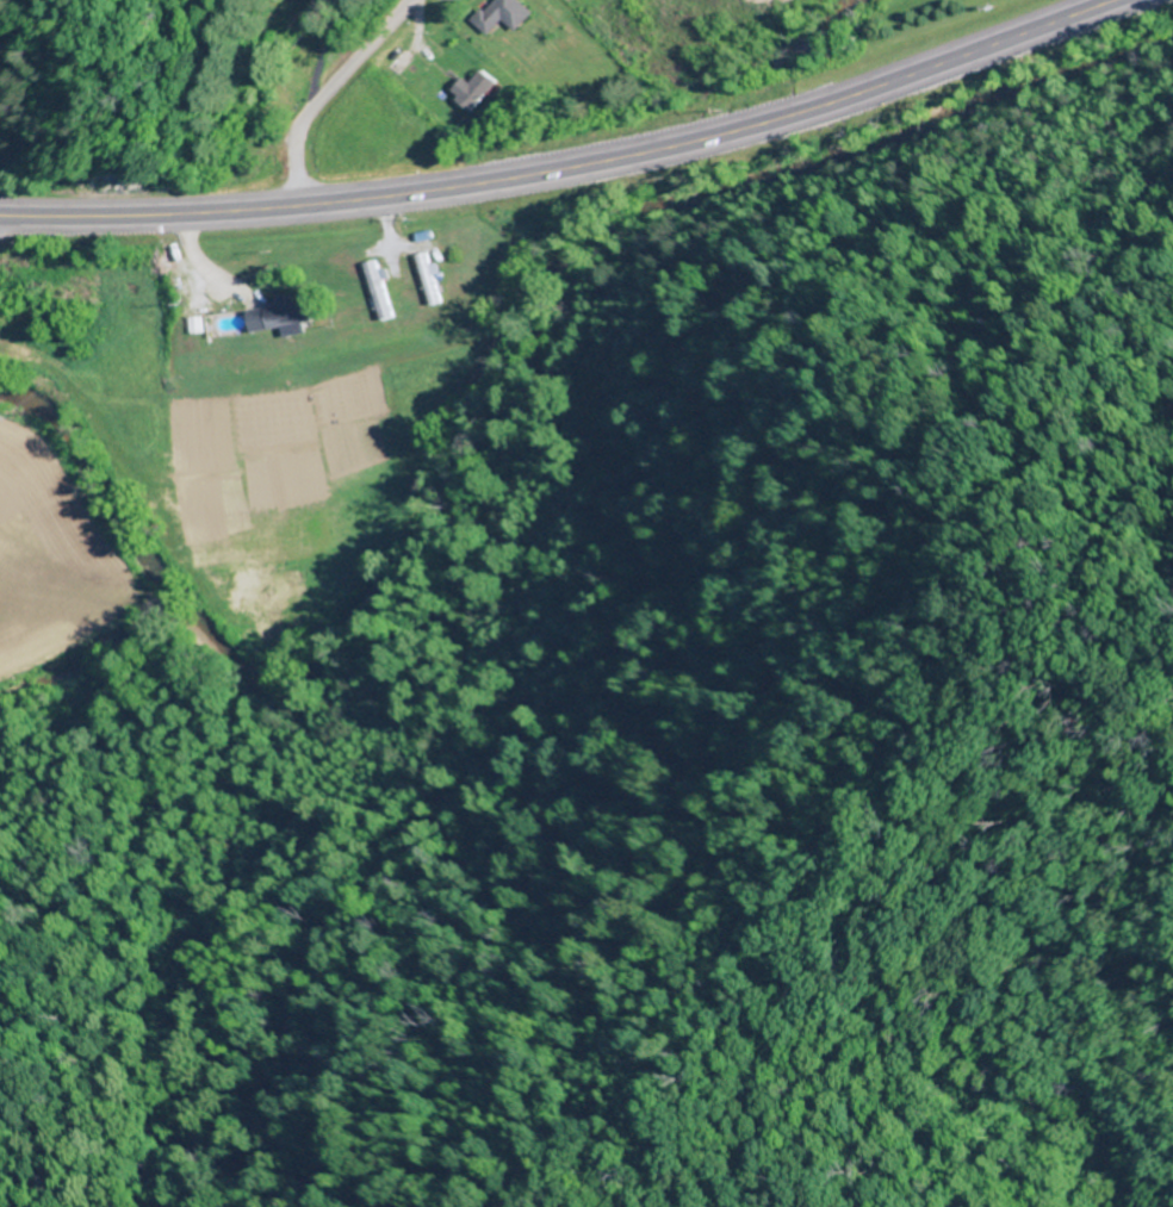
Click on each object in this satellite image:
building: (492, 15)
road: (324, 89)
building: (468, 91)
road: (571, 167)
road: (5, 223)
building: (380, 290)
building: (285, 315)

